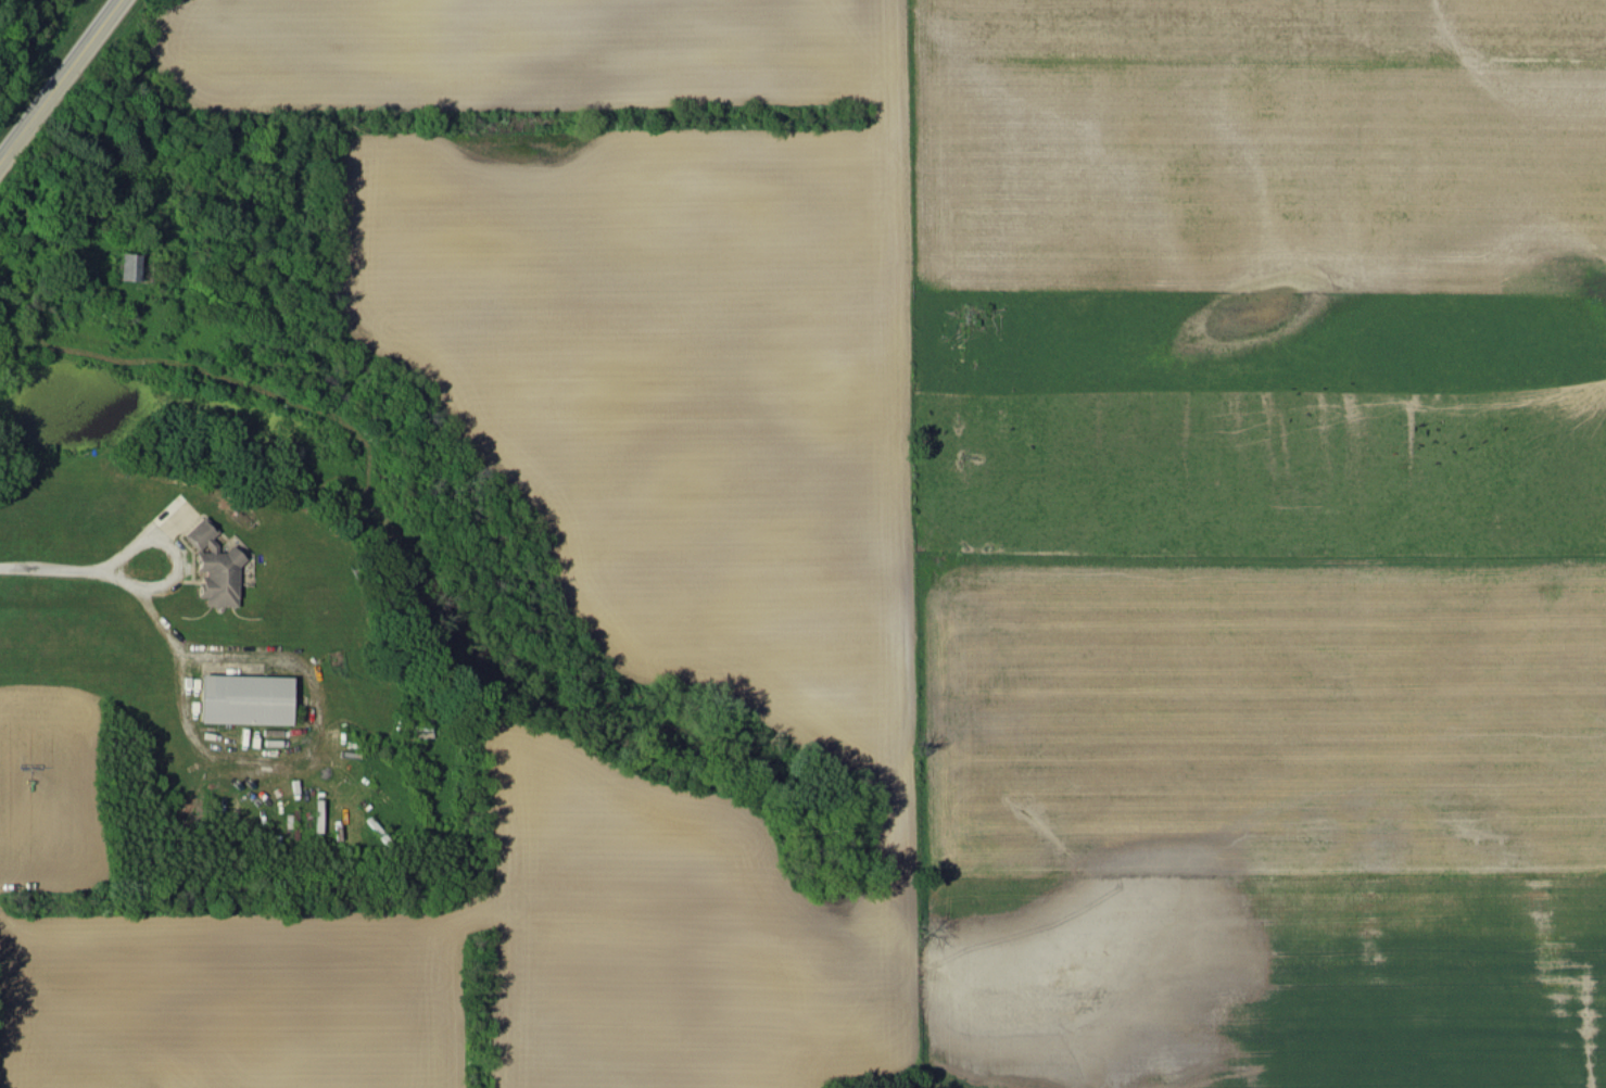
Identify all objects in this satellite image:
road: (60, 83)
building: (128, 265)
road: (163, 541)
building: (212, 565)
road: (108, 572)
building: (242, 698)
road: (302, 748)

